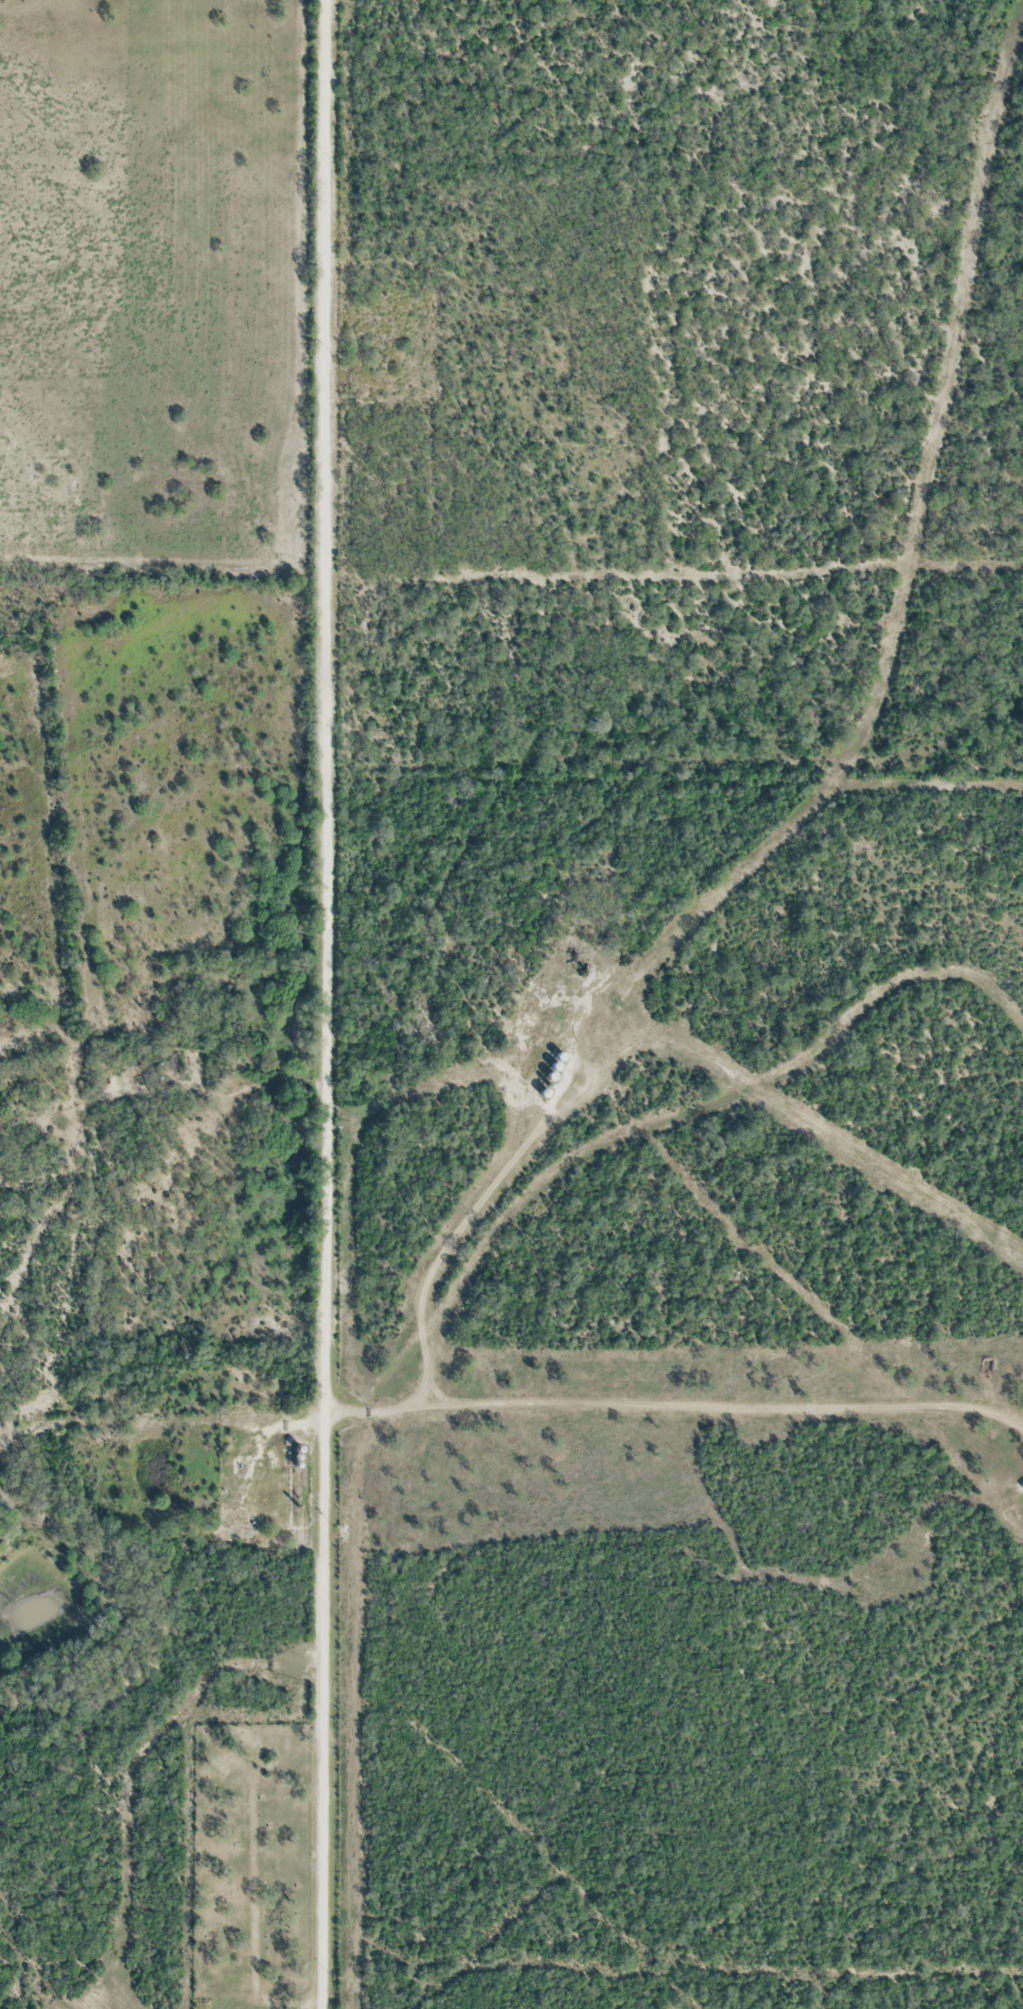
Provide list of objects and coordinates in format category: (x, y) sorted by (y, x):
road: (320, 1004)
road: (674, 1404)
park: (250, 1866)

